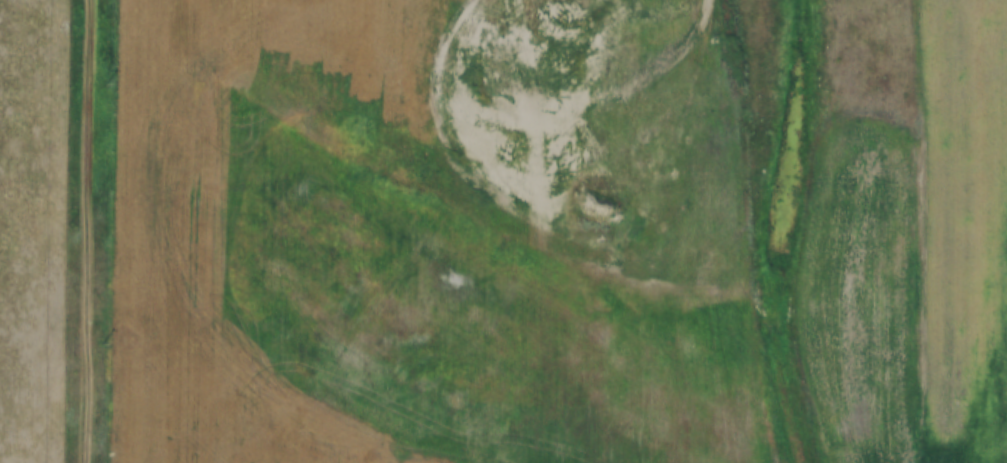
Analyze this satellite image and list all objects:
road: (538, 230)
road: (87, 231)
quarry: (556, 254)

